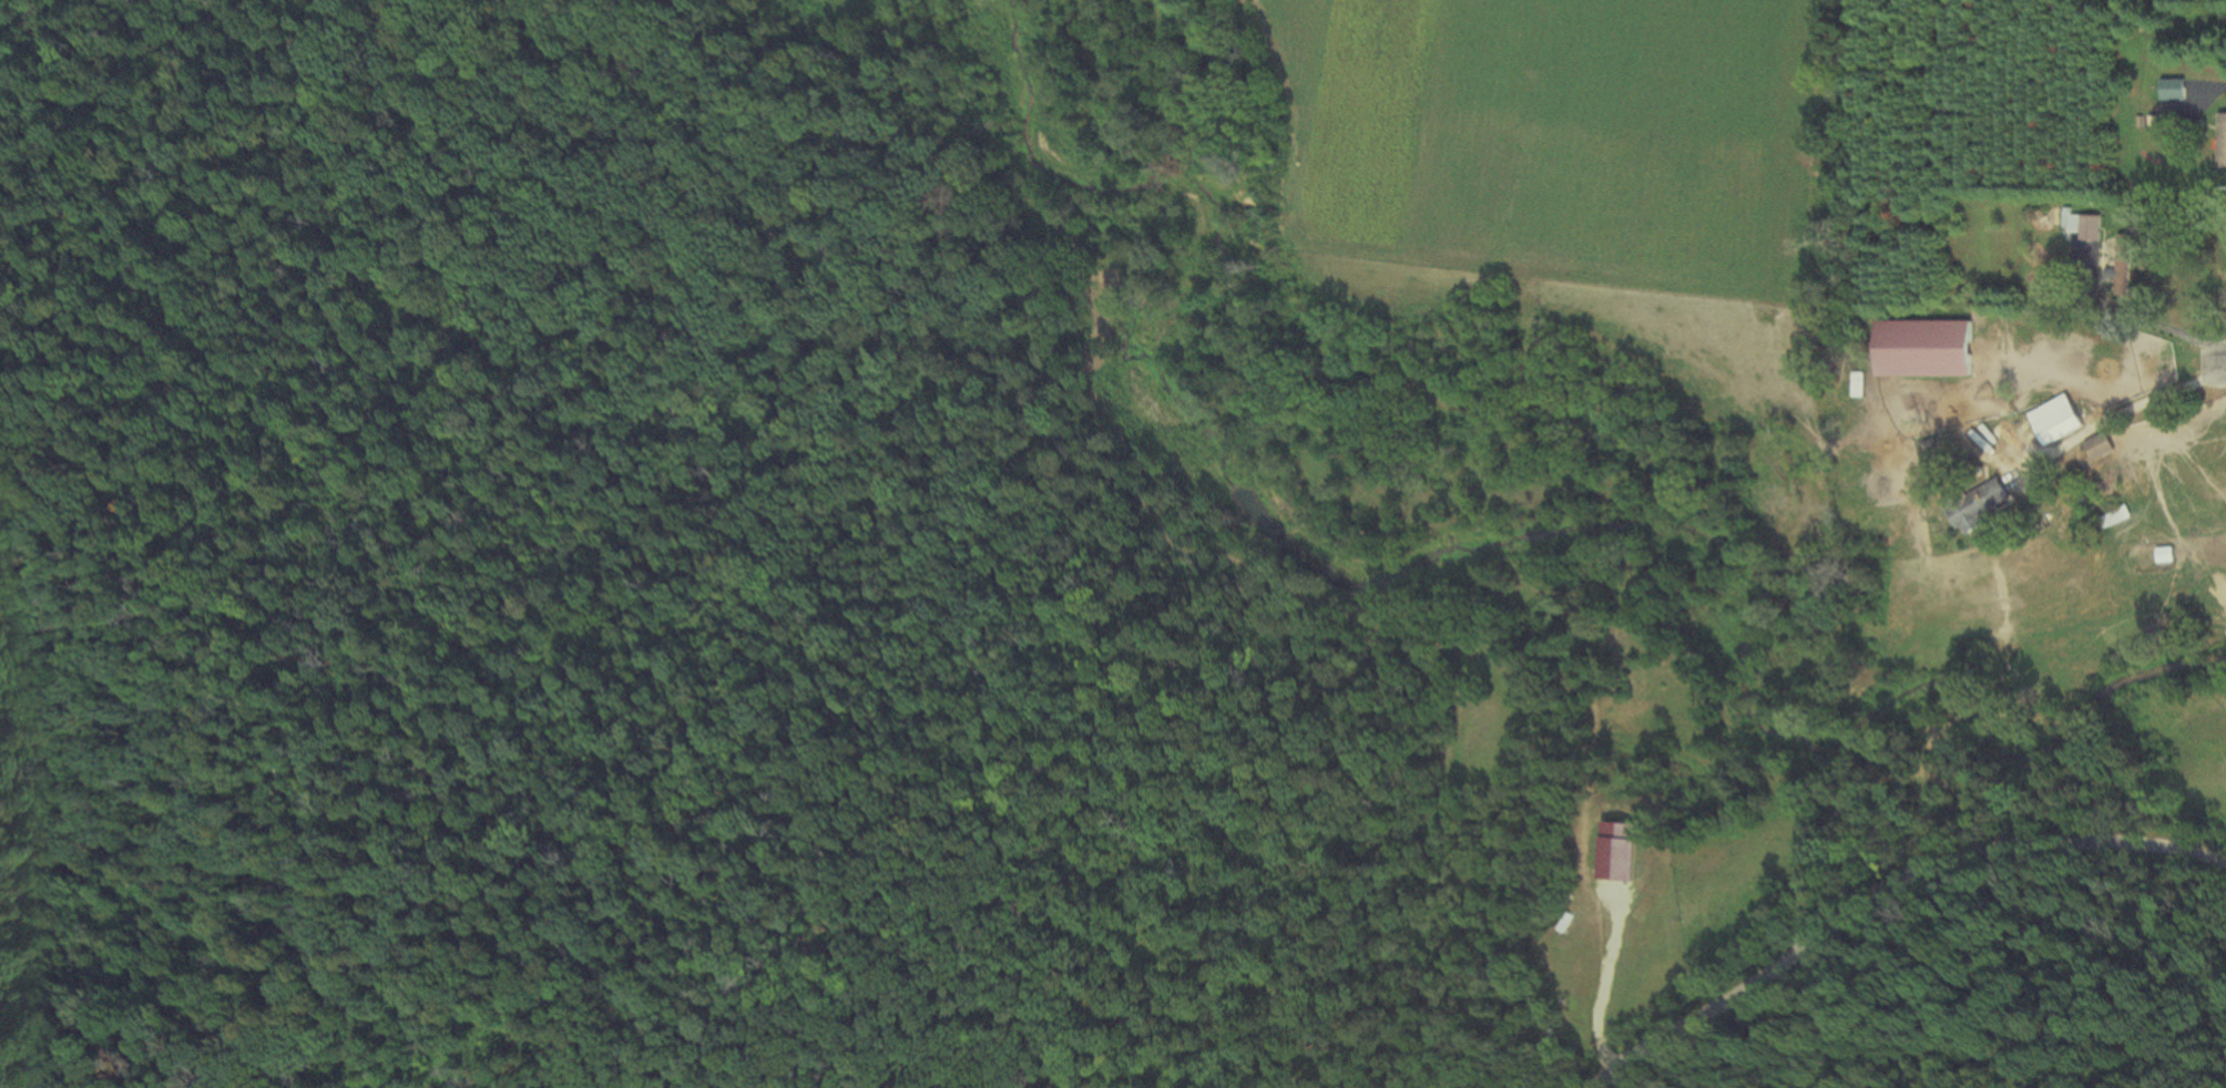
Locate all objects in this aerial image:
road: (2213, 376)
road: (1885, 893)

